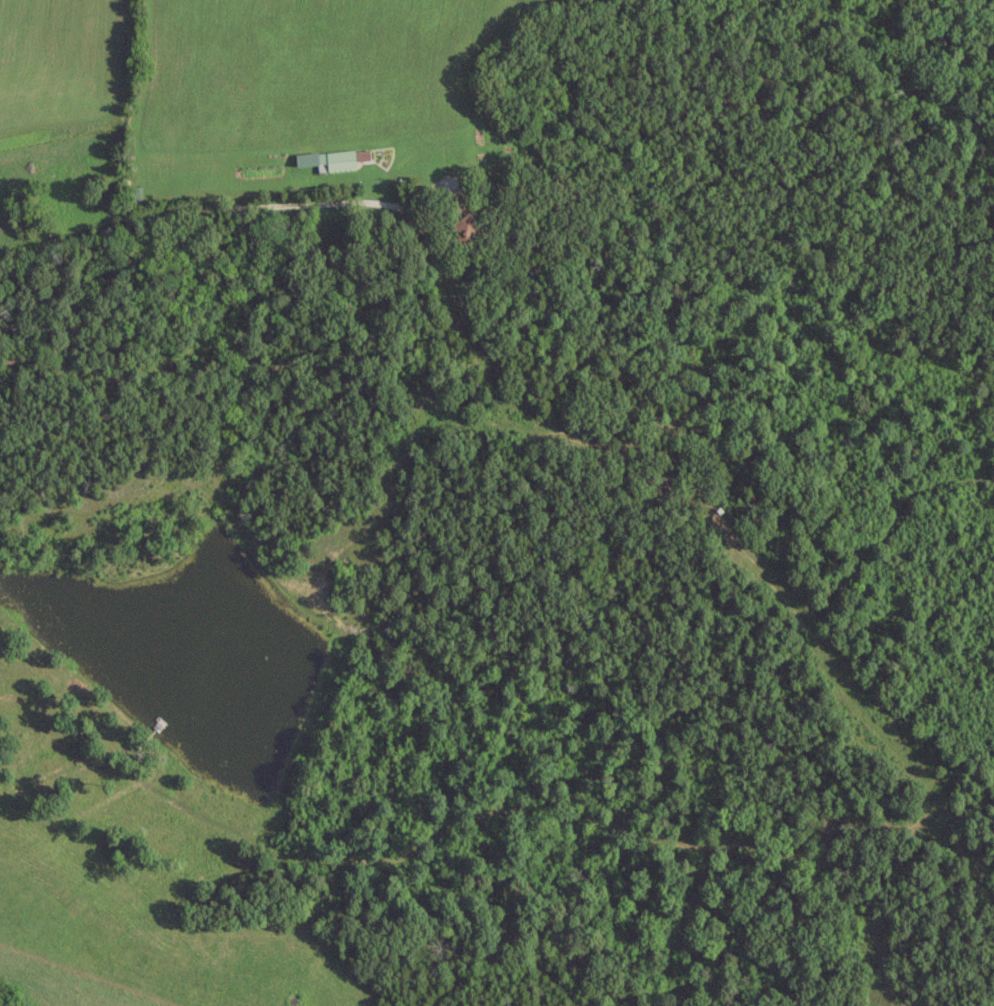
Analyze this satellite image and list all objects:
building: (338, 159)
building: (133, 193)
road: (175, 218)
building: (464, 230)

